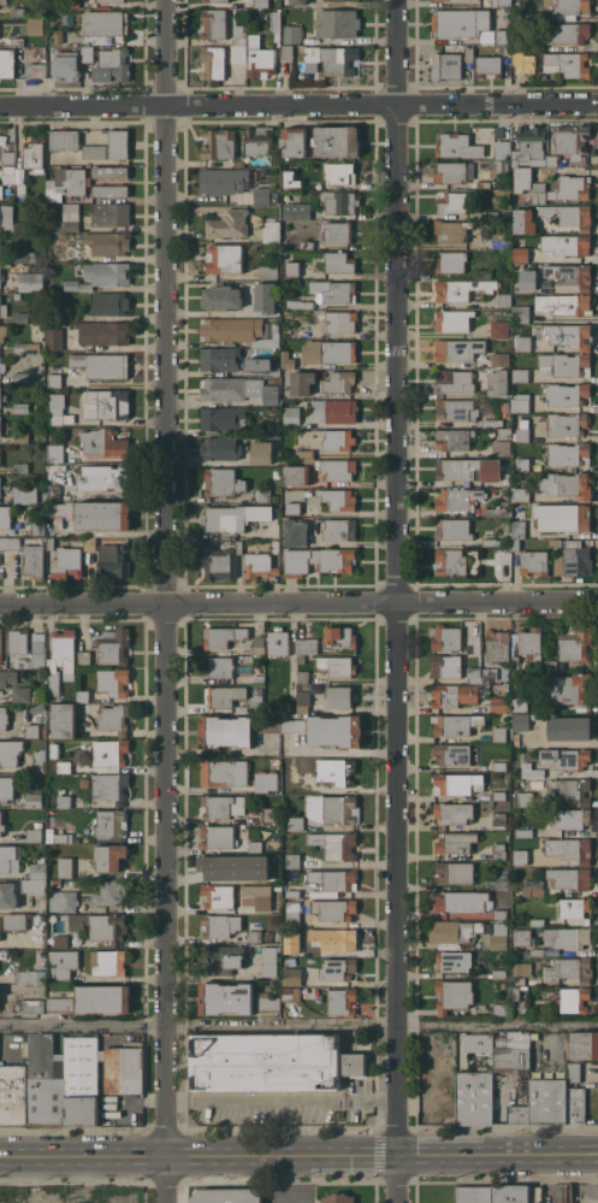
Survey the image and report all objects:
building: (214, 0)
building: (332, 0)
building: (437, 0)
building: (445, 0)
building: (111, 1)
building: (300, 2)
building: (502, 2)
building: (261, 4)
building: (569, 7)
building: (17, 12)
building: (261, 13)
building: (106, 23)
building: (214, 23)
building: (338, 23)
building: (461, 23)
building: (35, 25)
building: (569, 33)
building: (292, 34)
building: (58, 36)
building: (239, 36)
building: (278, 36)
building: (487, 36)
building: (503, 36)
building: (18, 41)
building: (508, 49)
building: (288, 53)
building: (88, 54)
building: (239, 54)
building: (469, 54)
building: (260, 57)
building: (334, 58)
building: (519, 59)
building: (213, 61)
building: (7, 63)
building: (568, 64)
building: (113, 65)
building: (66, 66)
building: (446, 66)
building: (489, 67)
building: (36, 70)
road: (298, 105)
building: (499, 132)
building: (65, 140)
building: (262, 140)
building: (337, 141)
building: (573, 141)
building: (294, 142)
building: (119, 143)
building: (219, 143)
building: (457, 146)
building: (533, 148)
building: (503, 149)
building: (94, 152)
building: (35, 153)
building: (8, 157)
building: (277, 160)
building: (239, 161)
building: (503, 166)
building: (109, 172)
building: (341, 172)
building: (454, 172)
building: (8, 173)
building: (523, 178)
building: (75, 179)
building: (224, 179)
building: (485, 184)
building: (304, 185)
building: (572, 188)
building: (22, 189)
building: (1, 190)
building: (54, 190)
building: (109, 190)
building: (262, 195)
building: (539, 197)
building: (342, 202)
building: (452, 202)
building: (547, 210)
building: (297, 211)
building: (112, 213)
building: (6, 214)
building: (489, 214)
building: (575, 216)
building: (71, 217)
building: (525, 220)
building: (229, 224)
building: (294, 224)
building: (22, 226)
building: (451, 230)
building: (272, 231)
building: (338, 232)
building: (498, 241)
building: (107, 242)
building: (307, 244)
building: (573, 244)
building: (1, 246)
building: (60, 253)
building: (519, 254)
building: (535, 255)
building: (24, 256)
building: (224, 259)
building: (451, 261)
building: (339, 263)
building: (292, 269)
building: (270, 272)
building: (485, 273)
building: (570, 275)
building: (1, 276)
building: (102, 276)
building: (529, 279)
building: (34, 282)
building: (462, 288)
building: (334, 290)
building: (17, 295)
building: (266, 296)
building: (223, 297)
building: (504, 300)
building: (111, 303)
building: (300, 303)
building: (566, 303)
building: (2, 307)
building: (521, 313)
building: (22, 317)
building: (454, 319)
building: (342, 322)
building: (499, 329)
building: (241, 330)
building: (2, 332)
building: (106, 332)
building: (569, 335)
building: (55, 338)
building: (523, 343)
building: (28, 346)
building: (458, 349)
building: (330, 350)
building: (219, 359)
building: (501, 359)
building: (288, 360)
building: (566, 364)
building: (103, 365)
building: (259, 365)
building: (2, 366)
building: (521, 375)
building: (22, 377)
building: (55, 381)
building: (456, 381)
building: (302, 382)
building: (341, 382)
building: (498, 382)
building: (224, 388)
building: (271, 395)
building: (569, 395)
building: (2, 396)
building: (520, 402)
building: (107, 403)
building: (22, 407)
building: (59, 409)
building: (336, 409)
building: (456, 409)
building: (292, 415)
building: (224, 418)
building: (490, 423)
building: (569, 424)
building: (271, 425)
building: (504, 432)
building: (522, 435)
building: (14, 436)
building: (454, 438)
building: (339, 440)
building: (105, 442)
building: (502, 447)
building: (220, 448)
building: (261, 452)
building: (55, 453)
building: (304, 453)
building: (570, 454)
building: (0, 456)
building: (522, 464)
building: (22, 467)
building: (338, 468)
building: (467, 470)
building: (277, 473)
building: (297, 474)
building: (103, 477)
building: (507, 480)
building: (223, 482)
building: (568, 484)
building: (0, 486)
building: (54, 493)
building: (264, 494)
building: (520, 494)
building: (25, 495)
building: (276, 497)
building: (339, 499)
building: (458, 499)
building: (294, 508)
building: (61, 509)
building: (497, 512)
building: (103, 515)
building: (6, 517)
building: (235, 517)
building: (563, 517)
building: (39, 527)
building: (341, 529)
building: (454, 529)
building: (519, 529)
building: (295, 532)
building: (492, 542)
building: (52, 543)
building: (556, 543)
building: (10, 544)
building: (90, 544)
building: (515, 544)
building: (277, 547)
building: (114, 559)
building: (573, 559)
building: (319, 560)
building: (34, 561)
building: (221, 561)
building: (452, 561)
building: (67, 562)
building: (535, 562)
building: (260, 566)
road: (166, 601)
road: (396, 601)
road: (298, 602)
building: (224, 636)
building: (339, 637)
building: (446, 637)
building: (19, 641)
building: (278, 642)
building: (531, 642)
building: (476, 643)
building: (498, 644)
building: (575, 644)
building: (257, 645)
building: (308, 645)
building: (116, 647)
building: (0, 648)
building: (35, 653)
building: (84, 656)
building: (301, 659)
building: (61, 660)
building: (516, 662)
building: (551, 664)
building: (337, 666)
building: (446, 666)
building: (220, 667)
building: (259, 673)
building: (474, 674)
building: (490, 674)
building: (303, 676)
building: (7, 677)
building: (114, 682)
building: (567, 688)
building: (22, 694)
building: (225, 695)
building: (454, 695)
building: (83, 696)
building: (341, 697)
building: (36, 698)
building: (303, 701)
building: (499, 703)
building: (520, 703)
building: (251, 707)
building: (83, 710)
building: (4, 718)
building: (114, 718)
building: (63, 720)
building: (521, 720)
building: (456, 724)
building: (268, 725)
building: (295, 725)
building: (570, 727)
building: (32, 731)
building: (225, 731)
building: (336, 731)
building: (499, 733)
building: (516, 739)
building: (55, 750)
building: (107, 750)
building: (10, 751)
road: (336, 751)
building: (452, 754)
building: (567, 757)
building: (40, 761)
building: (274, 761)
building: (501, 766)
building: (63, 767)
building: (532, 769)
building: (341, 771)
building: (218, 777)
building: (261, 782)
building: (457, 784)
building: (111, 786)
building: (6, 788)
building: (569, 789)
building: (499, 795)
building: (523, 798)
building: (61, 800)
building: (34, 801)
building: (221, 806)
building: (333, 808)
building: (455, 813)
building: (270, 814)
building: (572, 818)
building: (501, 820)
building: (112, 822)
building: (295, 822)
building: (1, 824)
building: (35, 832)
building: (218, 836)
building: (60, 837)
building: (456, 842)
building: (255, 847)
building: (342, 847)
building: (569, 849)
building: (499, 851)
building: (111, 856)
building: (10, 857)
building: (294, 860)
building: (65, 867)
building: (235, 867)
building: (39, 868)
building: (454, 872)
building: (569, 878)
building: (504, 880)
building: (332, 881)
building: (57, 883)
building: (34, 885)
building: (533, 887)
building: (111, 892)
building: (294, 894)
building: (8, 895)
building: (218, 895)
building: (259, 895)
building: (63, 901)
building: (462, 901)
building: (334, 908)
building: (575, 908)
building: (294, 913)
building: (499, 914)
building: (17, 921)
building: (538, 922)
building: (219, 925)
building: (100, 926)
building: (454, 930)
building: (255, 936)
building: (499, 936)
building: (523, 937)
building: (568, 937)
building: (336, 938)
building: (61, 940)
building: (292, 949)
building: (533, 951)
building: (223, 959)
building: (108, 961)
building: (270, 961)
building: (455, 961)
building: (63, 965)
building: (338, 968)
building: (521, 968)
building: (570, 968)
building: (499, 973)
building: (292, 975)
building: (30, 977)
building: (291, 995)
building: (454, 995)
building: (103, 998)
building: (226, 998)
building: (574, 999)
building: (342, 1001)
building: (267, 1002)
building: (61, 1004)
building: (29, 1006)
building: (501, 1009)
road: (298, 1025)
building: (478, 1042)
building: (582, 1045)
building: (511, 1050)
building: (266, 1062)
building: (355, 1063)
building: (124, 1068)
building: (574, 1072)
building: (82, 1080)
building: (45, 1083)
building: (474, 1092)
building: (13, 1095)
road: (283, 1099)
building: (549, 1101)
building: (576, 1104)
building: (519, 1114)
road: (298, 1154)
building: (475, 1193)
building: (511, 1193)
building: (568, 1193)
building: (535, 1195)
building: (226, 1196)
building: (338, 1197)

